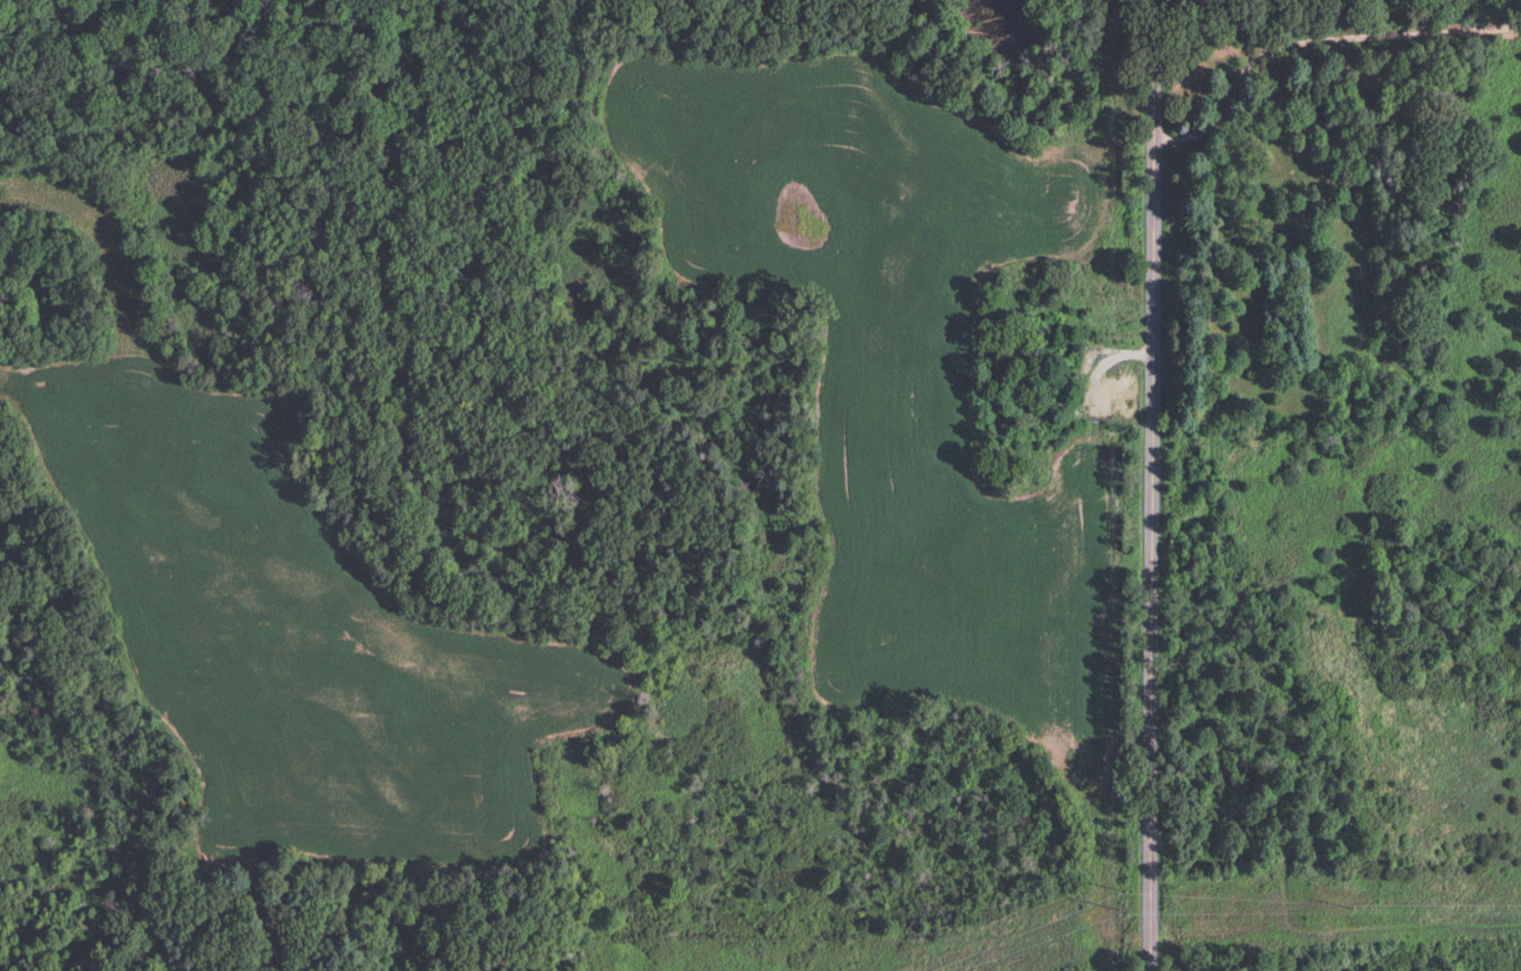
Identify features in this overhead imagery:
road: (1312, 42)
road: (1150, 485)

